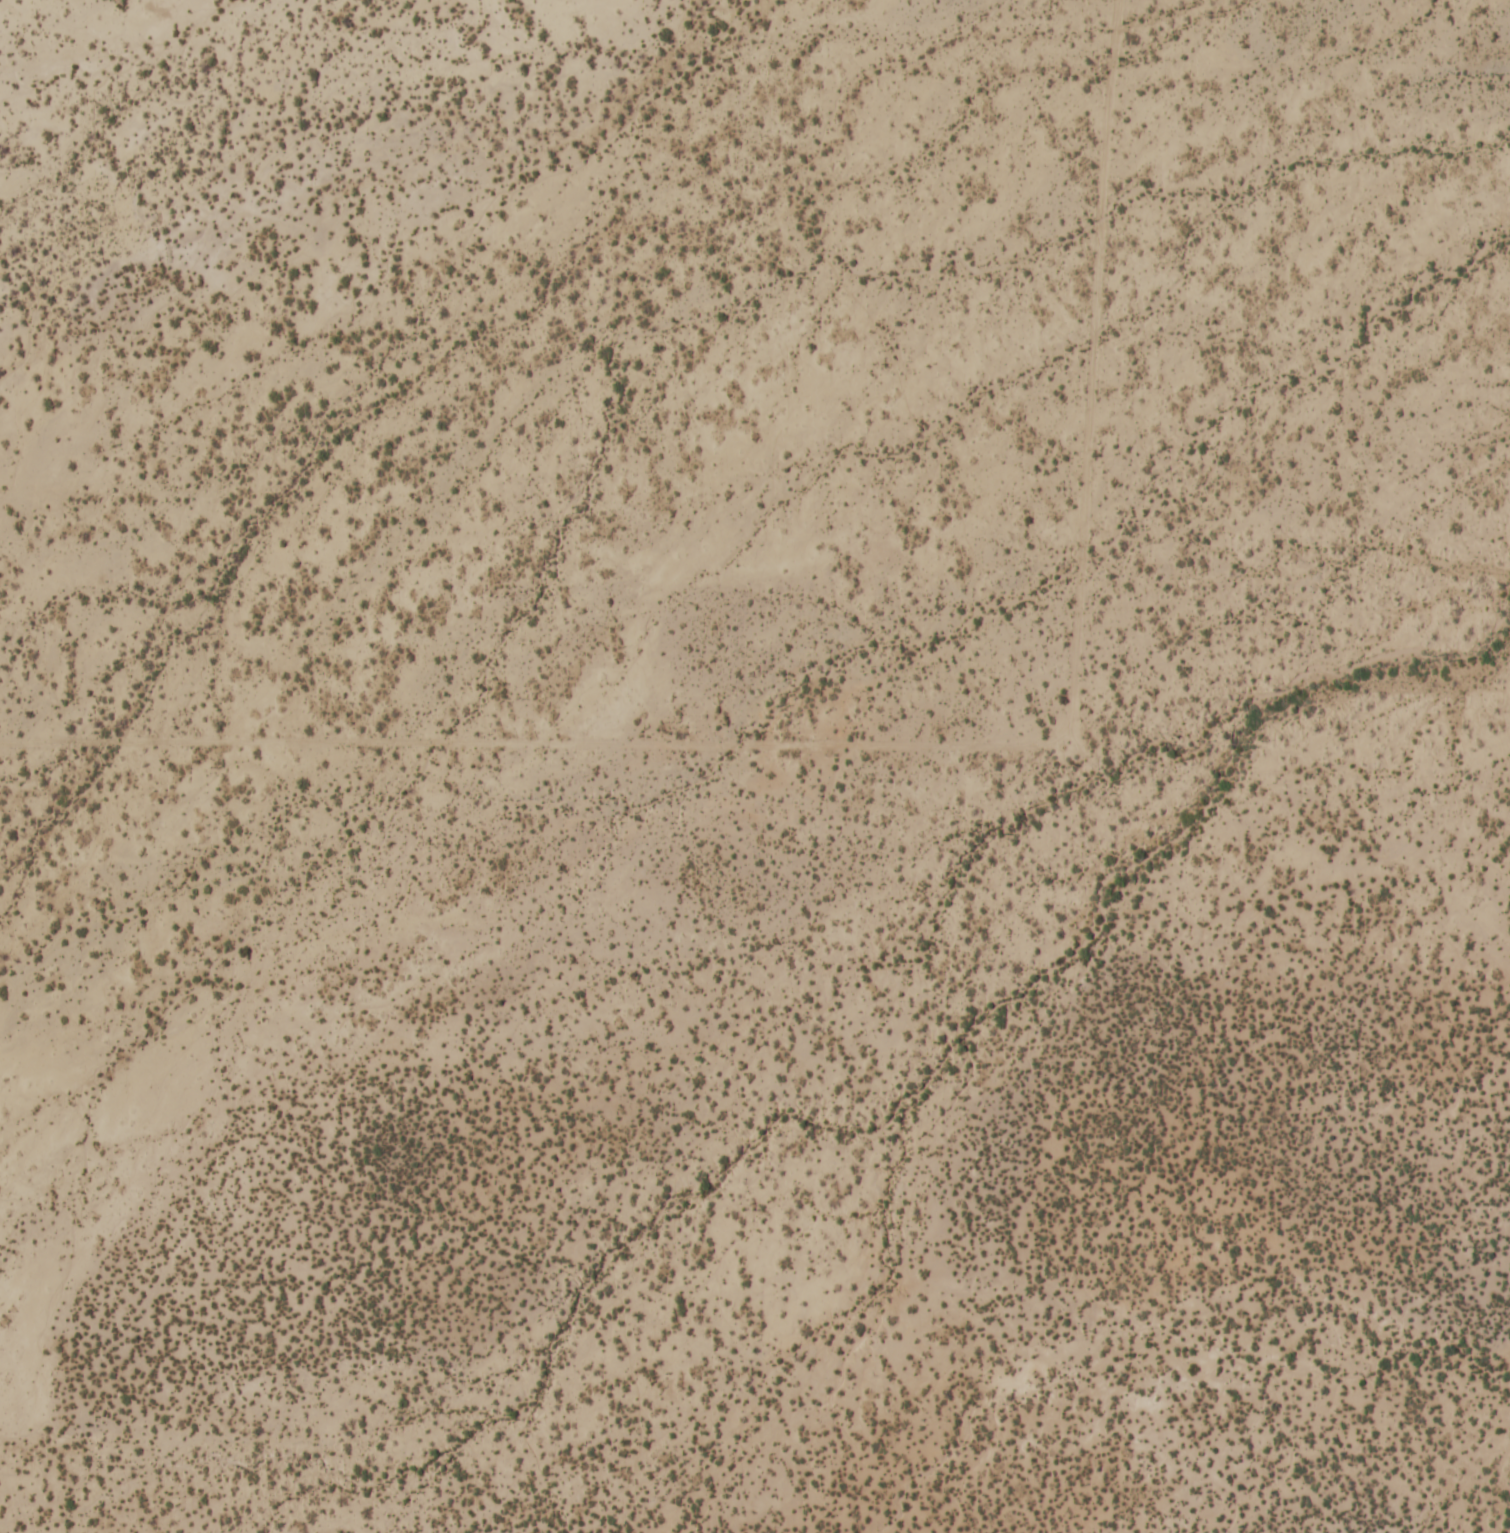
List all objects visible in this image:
road: (901, 747)

